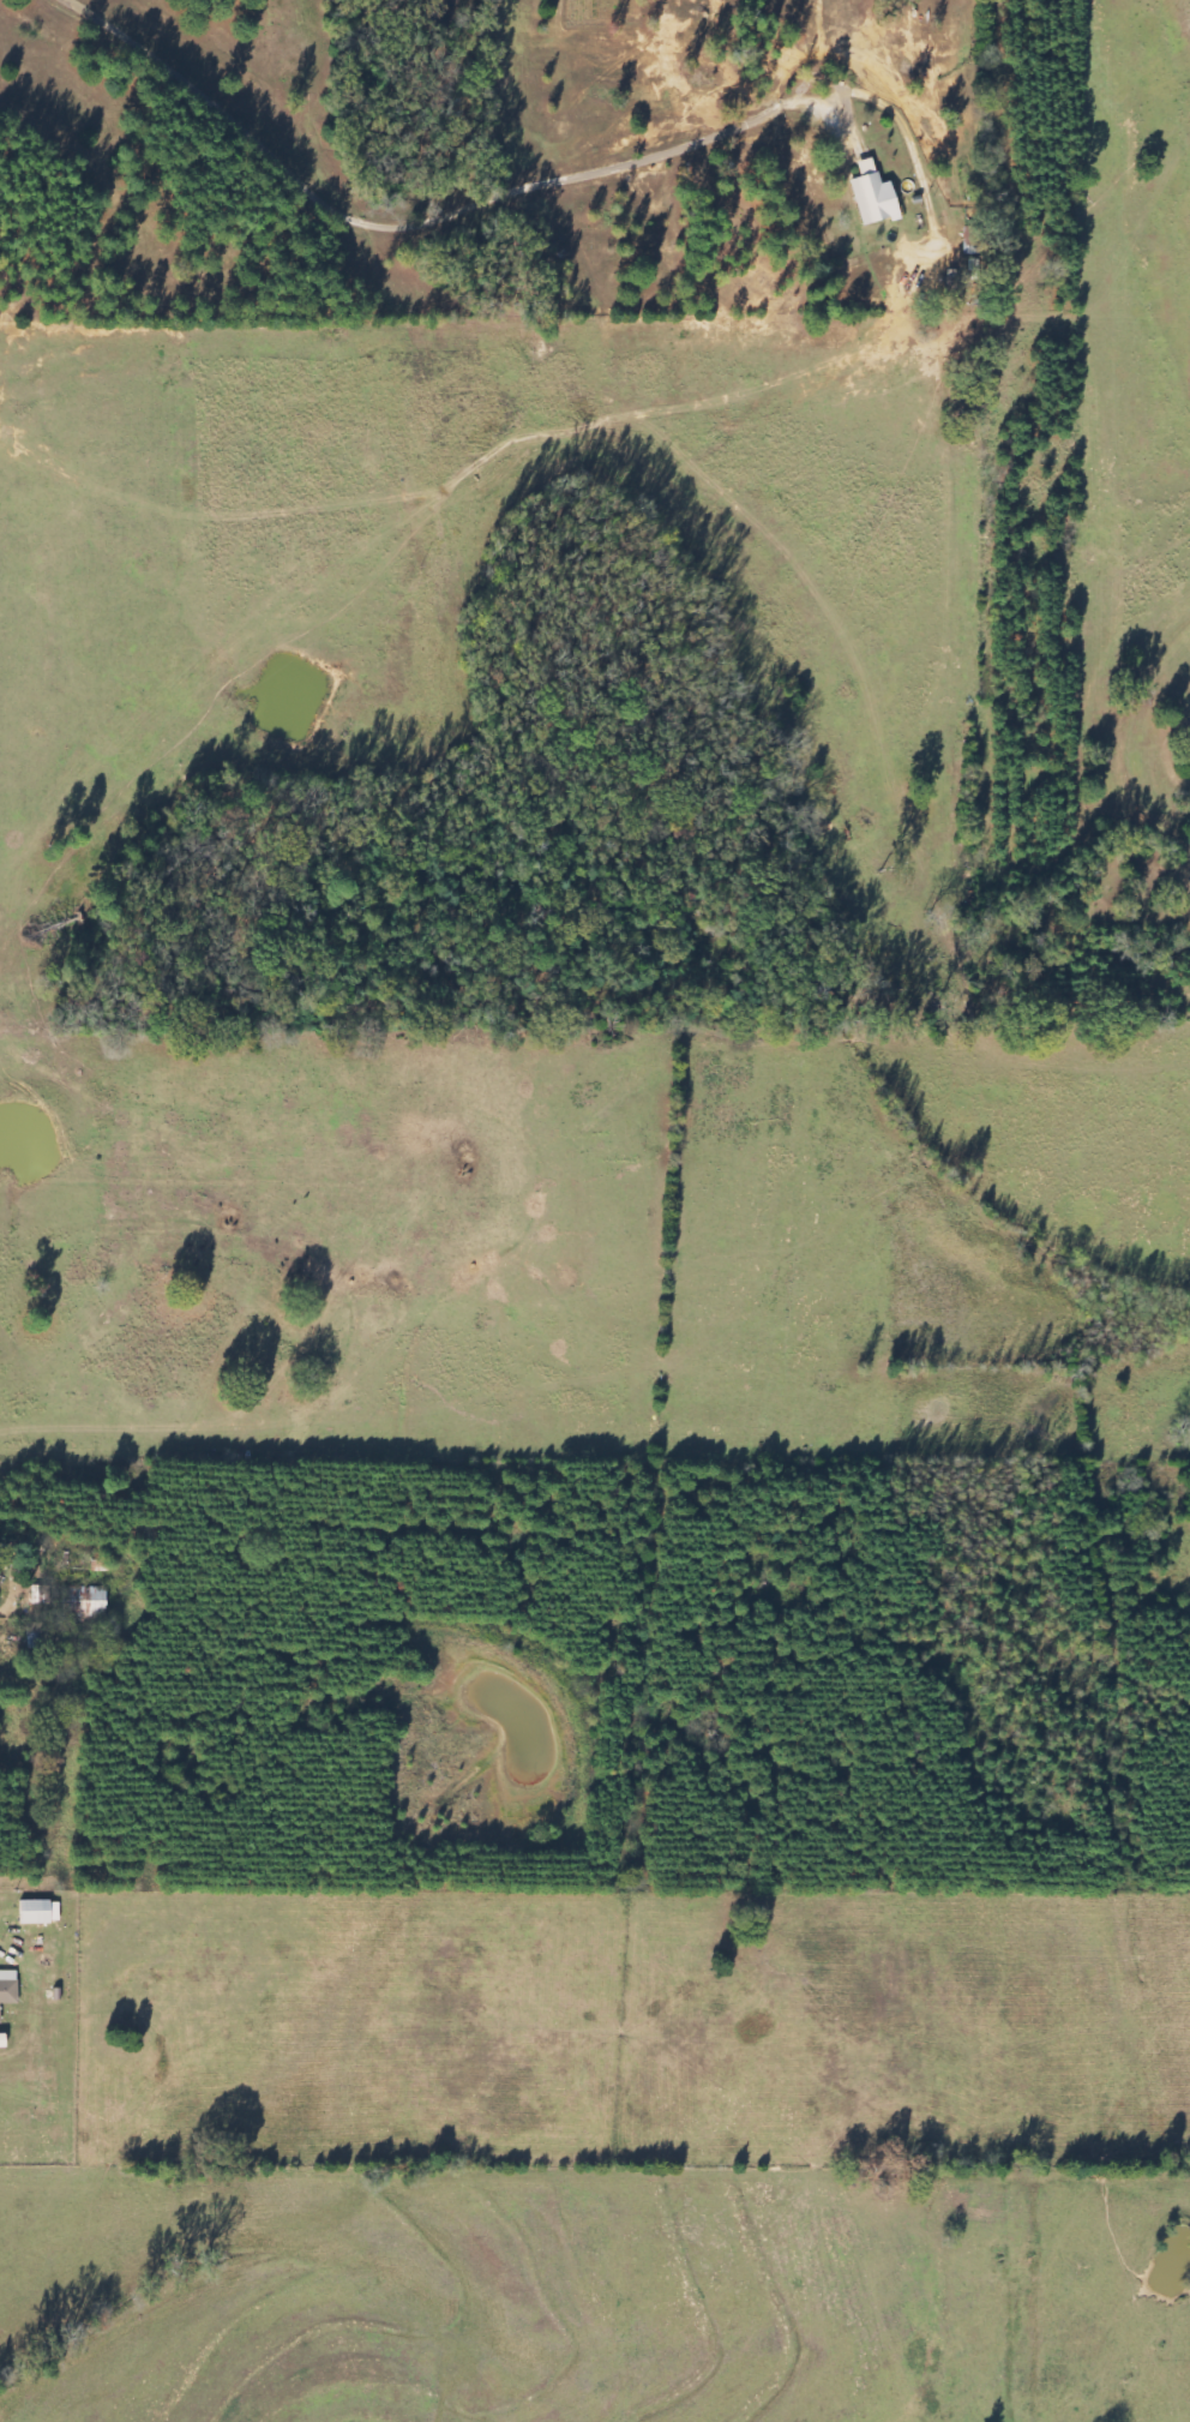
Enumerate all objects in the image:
road: (566, 190)
building: (872, 194)
building: (41, 1594)
building: (85, 1601)
road: (44, 1783)
building: (38, 1911)
building: (7, 1986)

